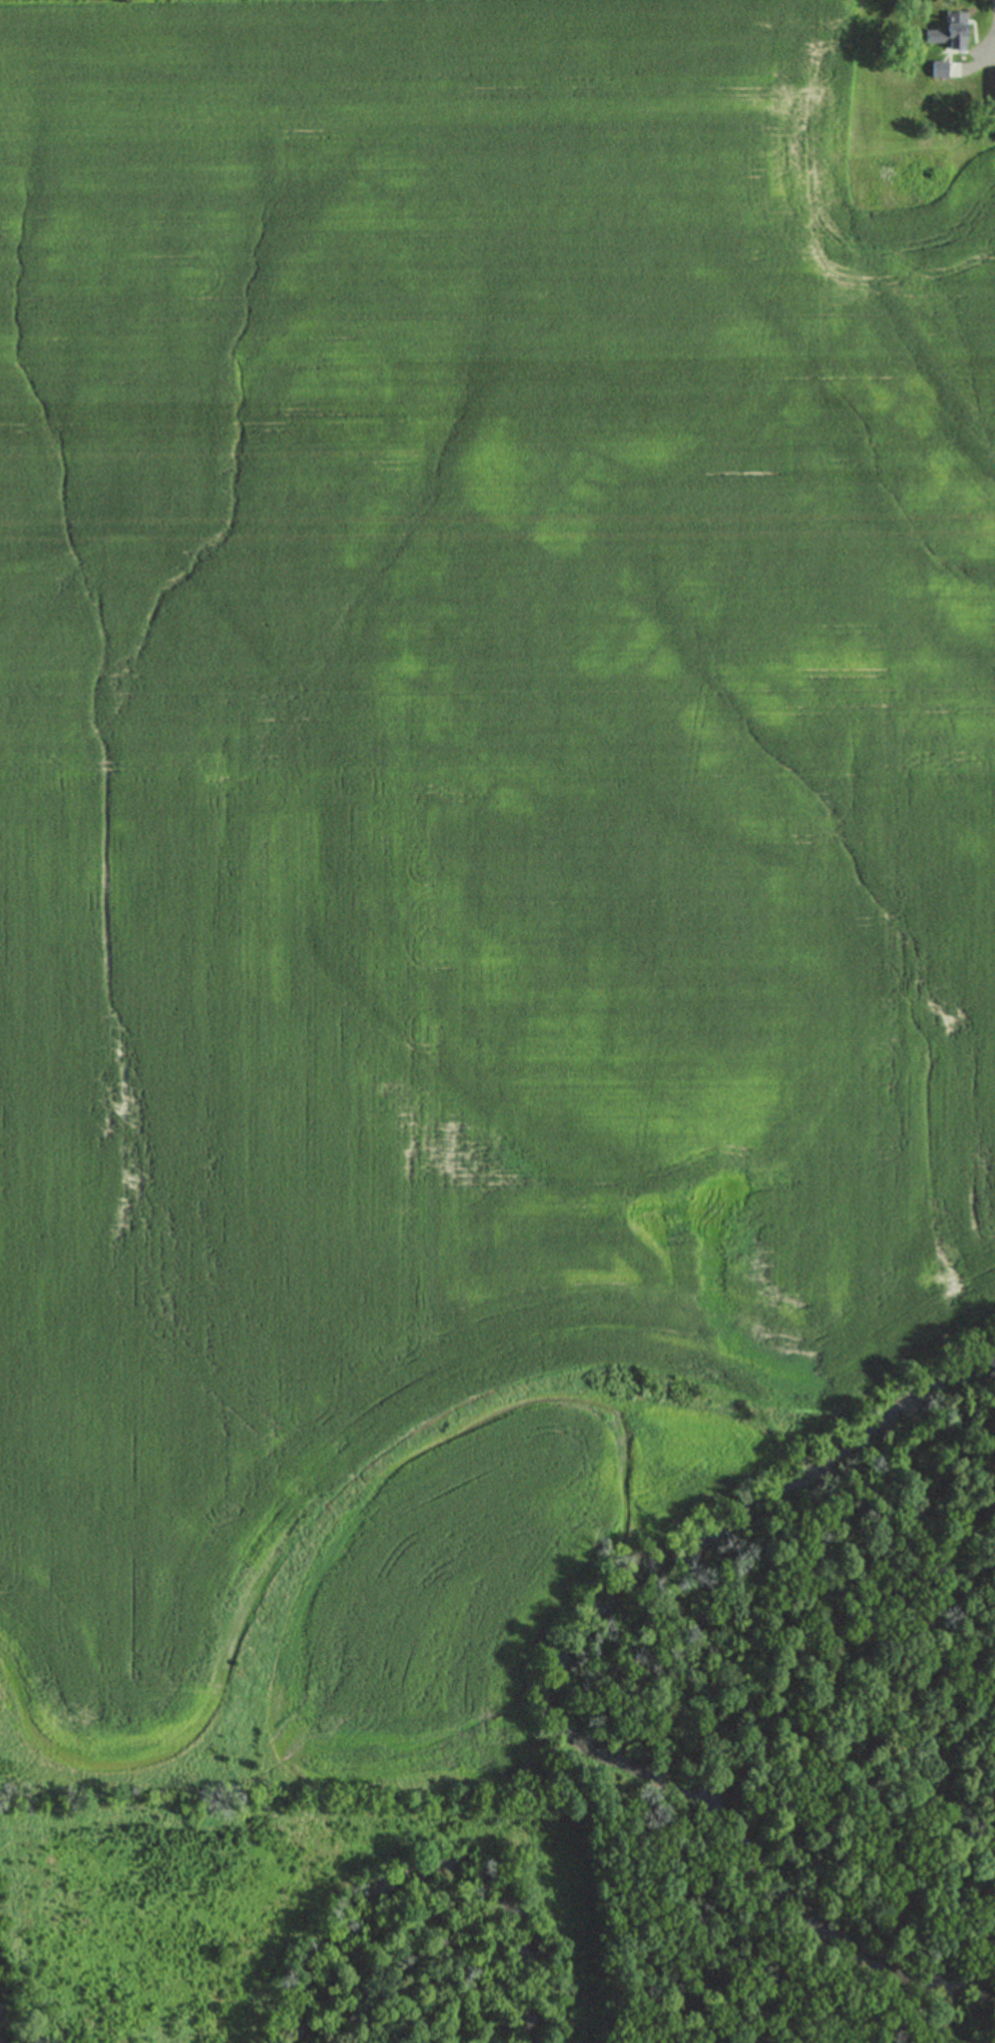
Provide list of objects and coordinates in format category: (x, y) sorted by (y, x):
building: (954, 28)
building: (941, 68)
river: (549, 1690)
river: (426, 1865)

